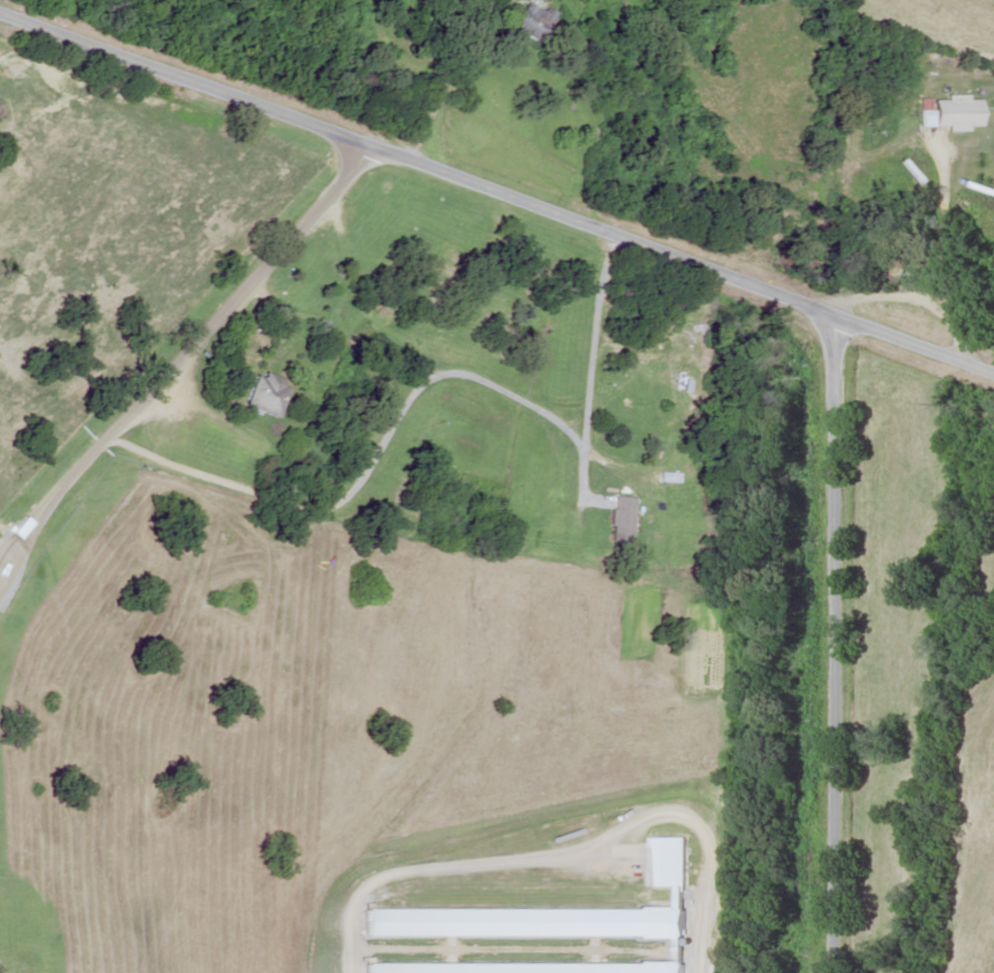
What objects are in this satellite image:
building: (528, 22)
road: (447, 76)
building: (957, 113)
road: (497, 191)
building: (899, 264)
road: (185, 346)
road: (413, 389)
building: (263, 392)
building: (620, 517)
road: (835, 645)
building: (546, 925)

